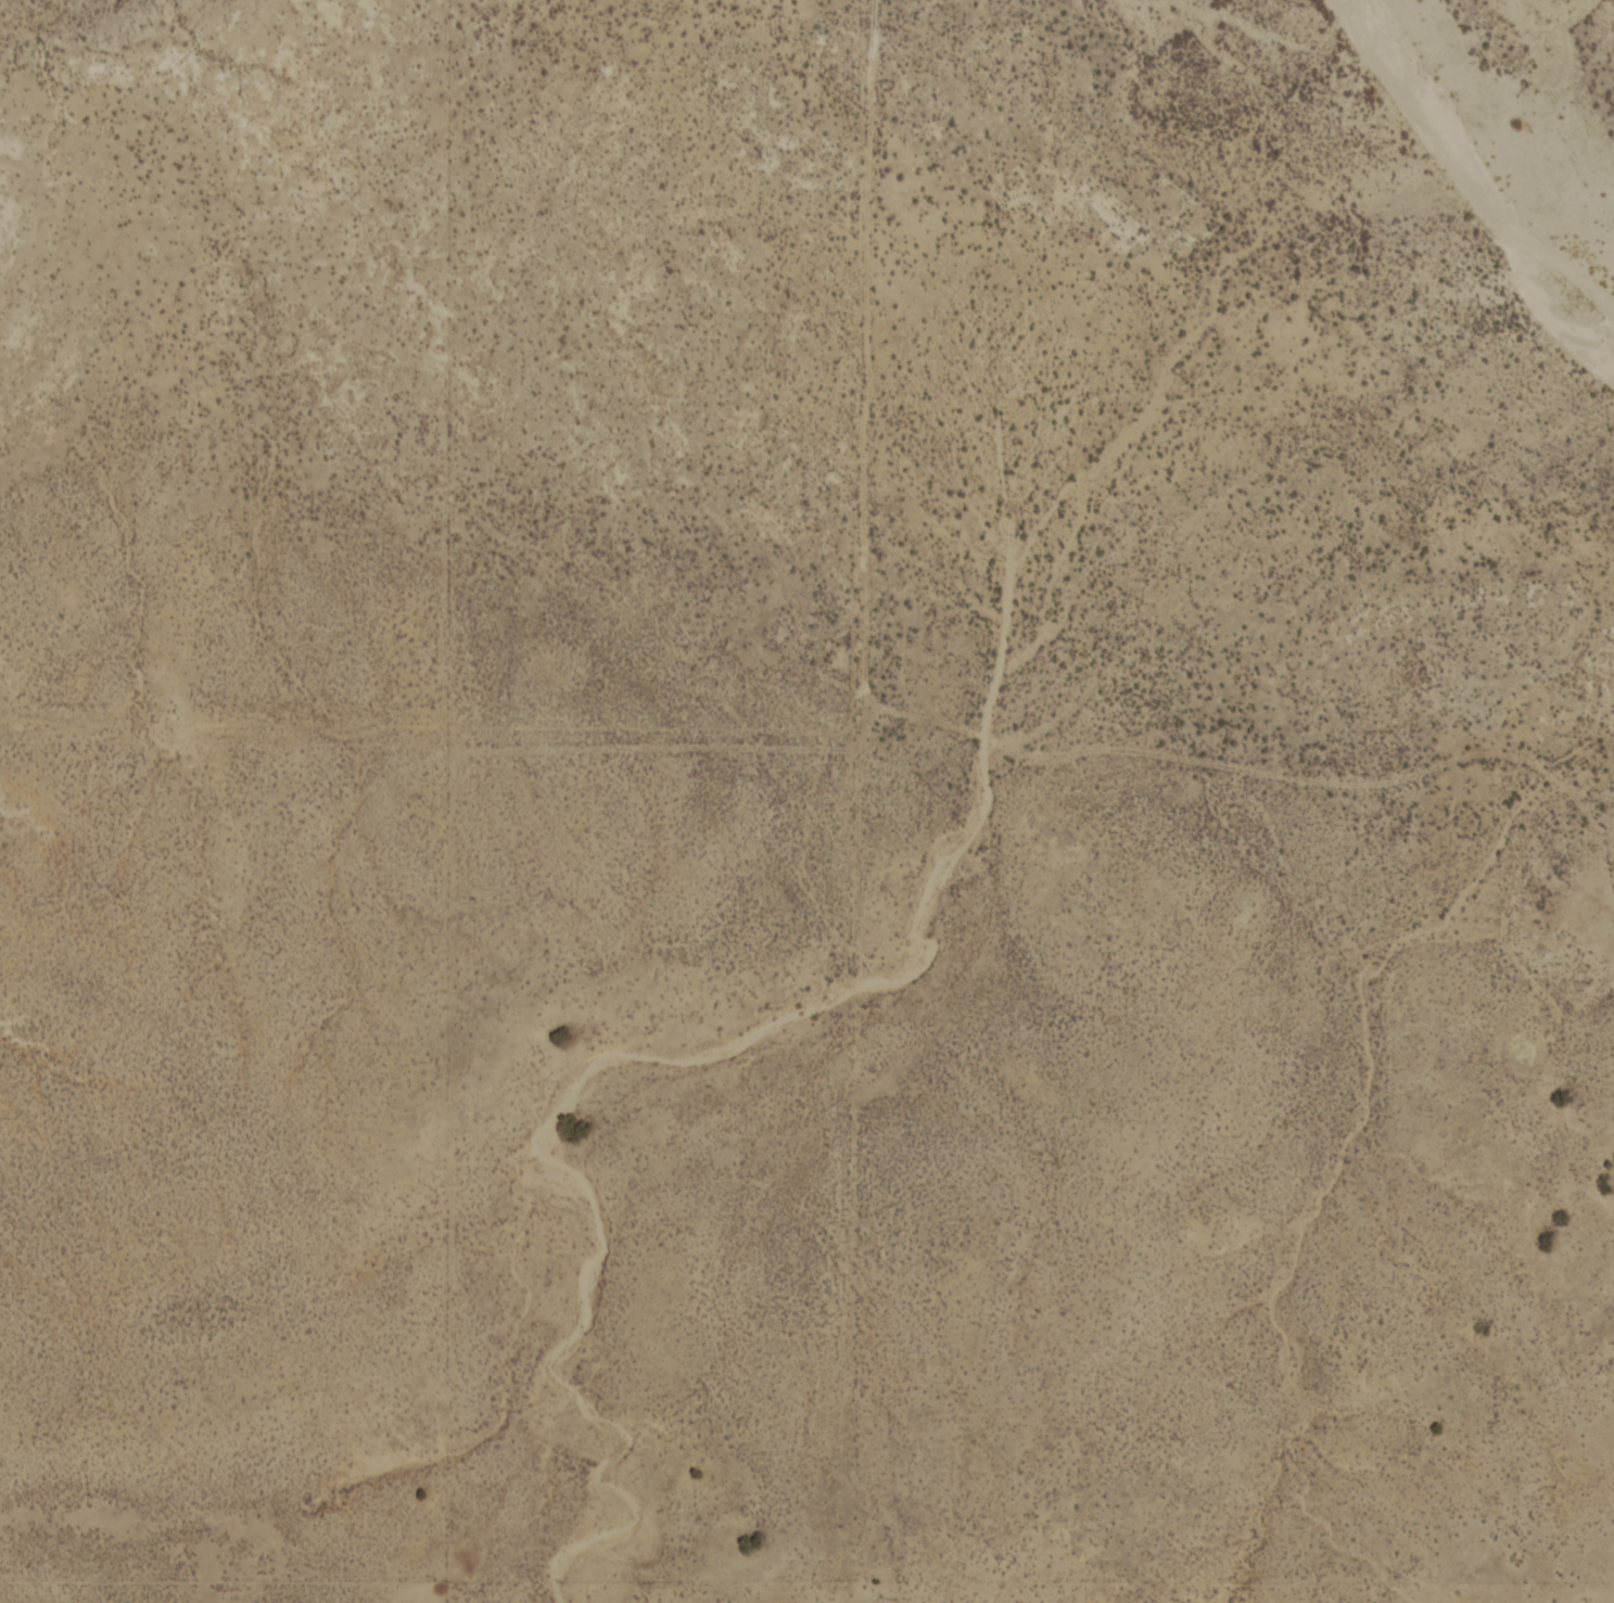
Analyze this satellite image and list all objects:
river: (1477, 169)

